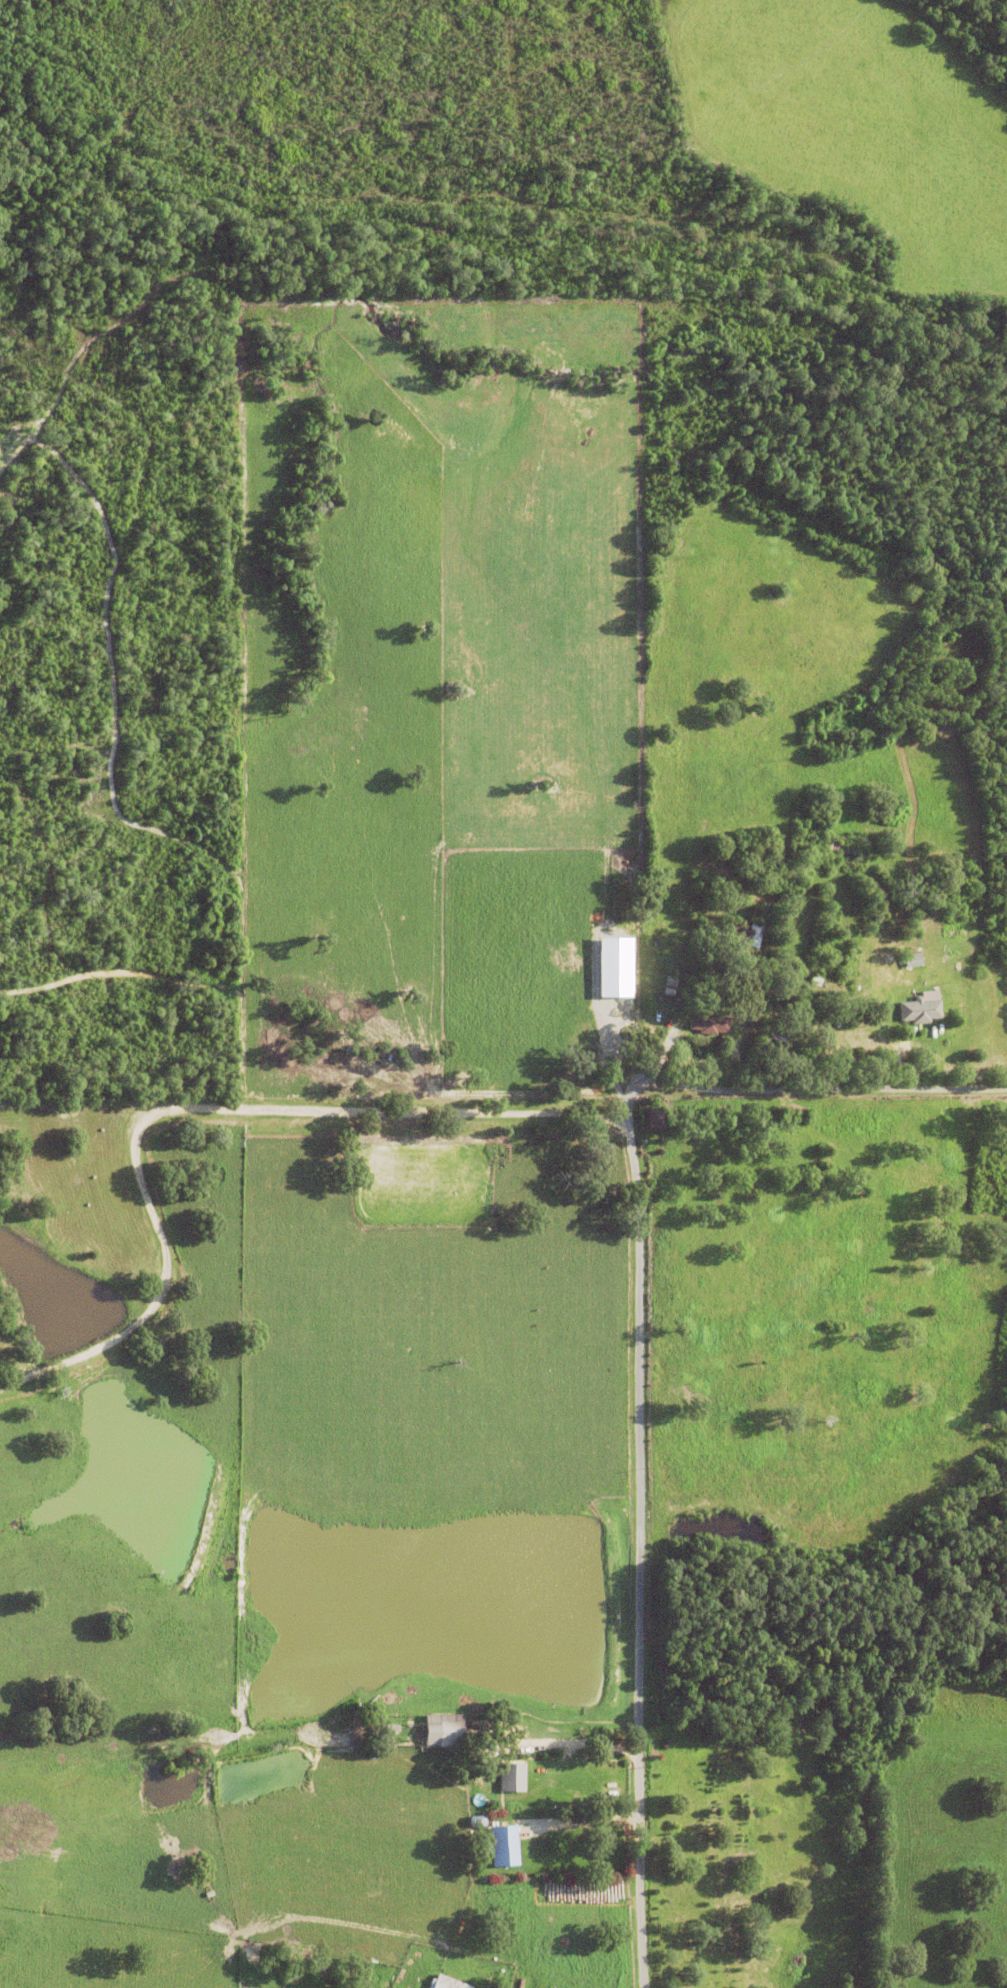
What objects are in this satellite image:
building: (836, 844)
building: (718, 890)
building: (911, 957)
building: (618, 965)
building: (706, 976)
building: (814, 978)
building: (669, 979)
building: (667, 989)
building: (918, 1008)
building: (708, 1020)
road: (405, 1111)
building: (654, 1116)
road: (635, 1555)
building: (391, 1727)
building: (443, 1728)
road: (567, 1744)
building: (509, 1776)
road: (580, 1818)
building: (474, 1821)
building: (501, 1845)
building: (479, 1847)
building: (445, 1982)

